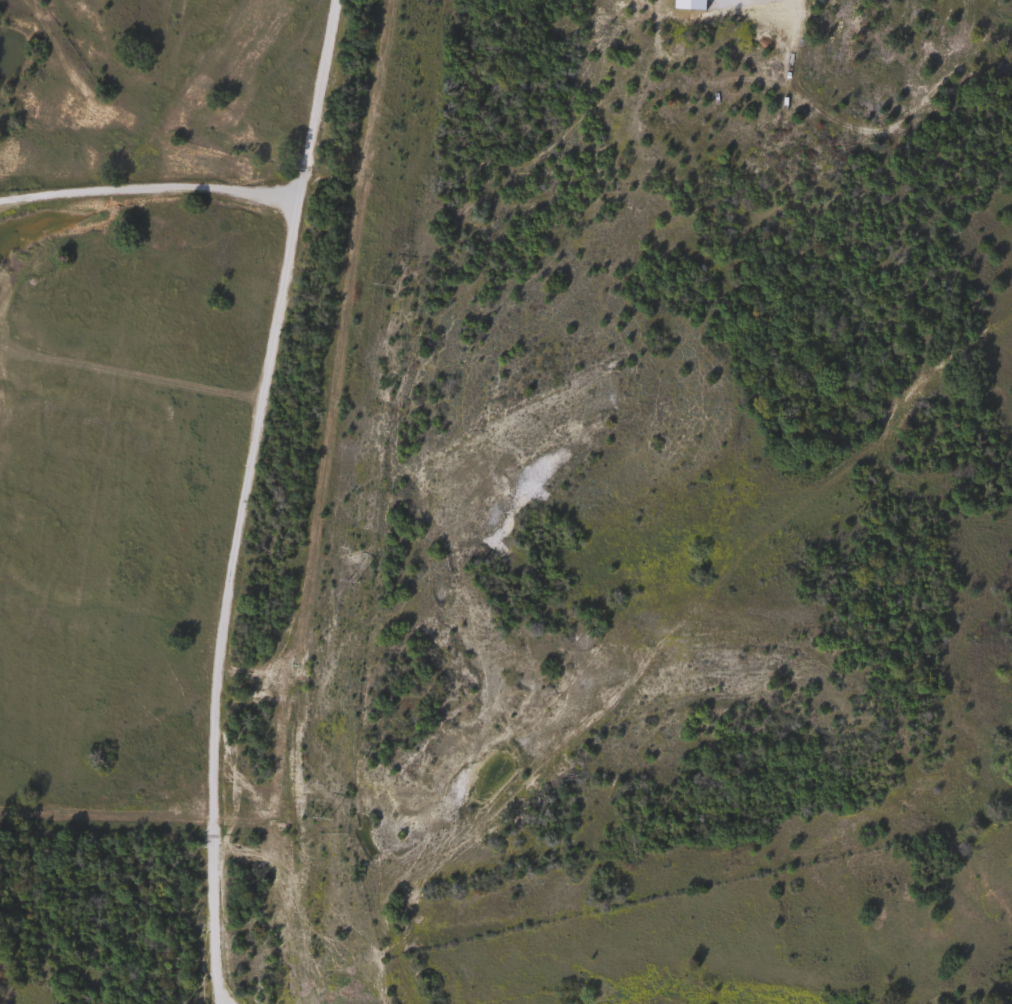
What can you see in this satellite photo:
power tower: (386, 284)
road: (244, 499)
power tower: (351, 581)
power tower: (325, 819)

